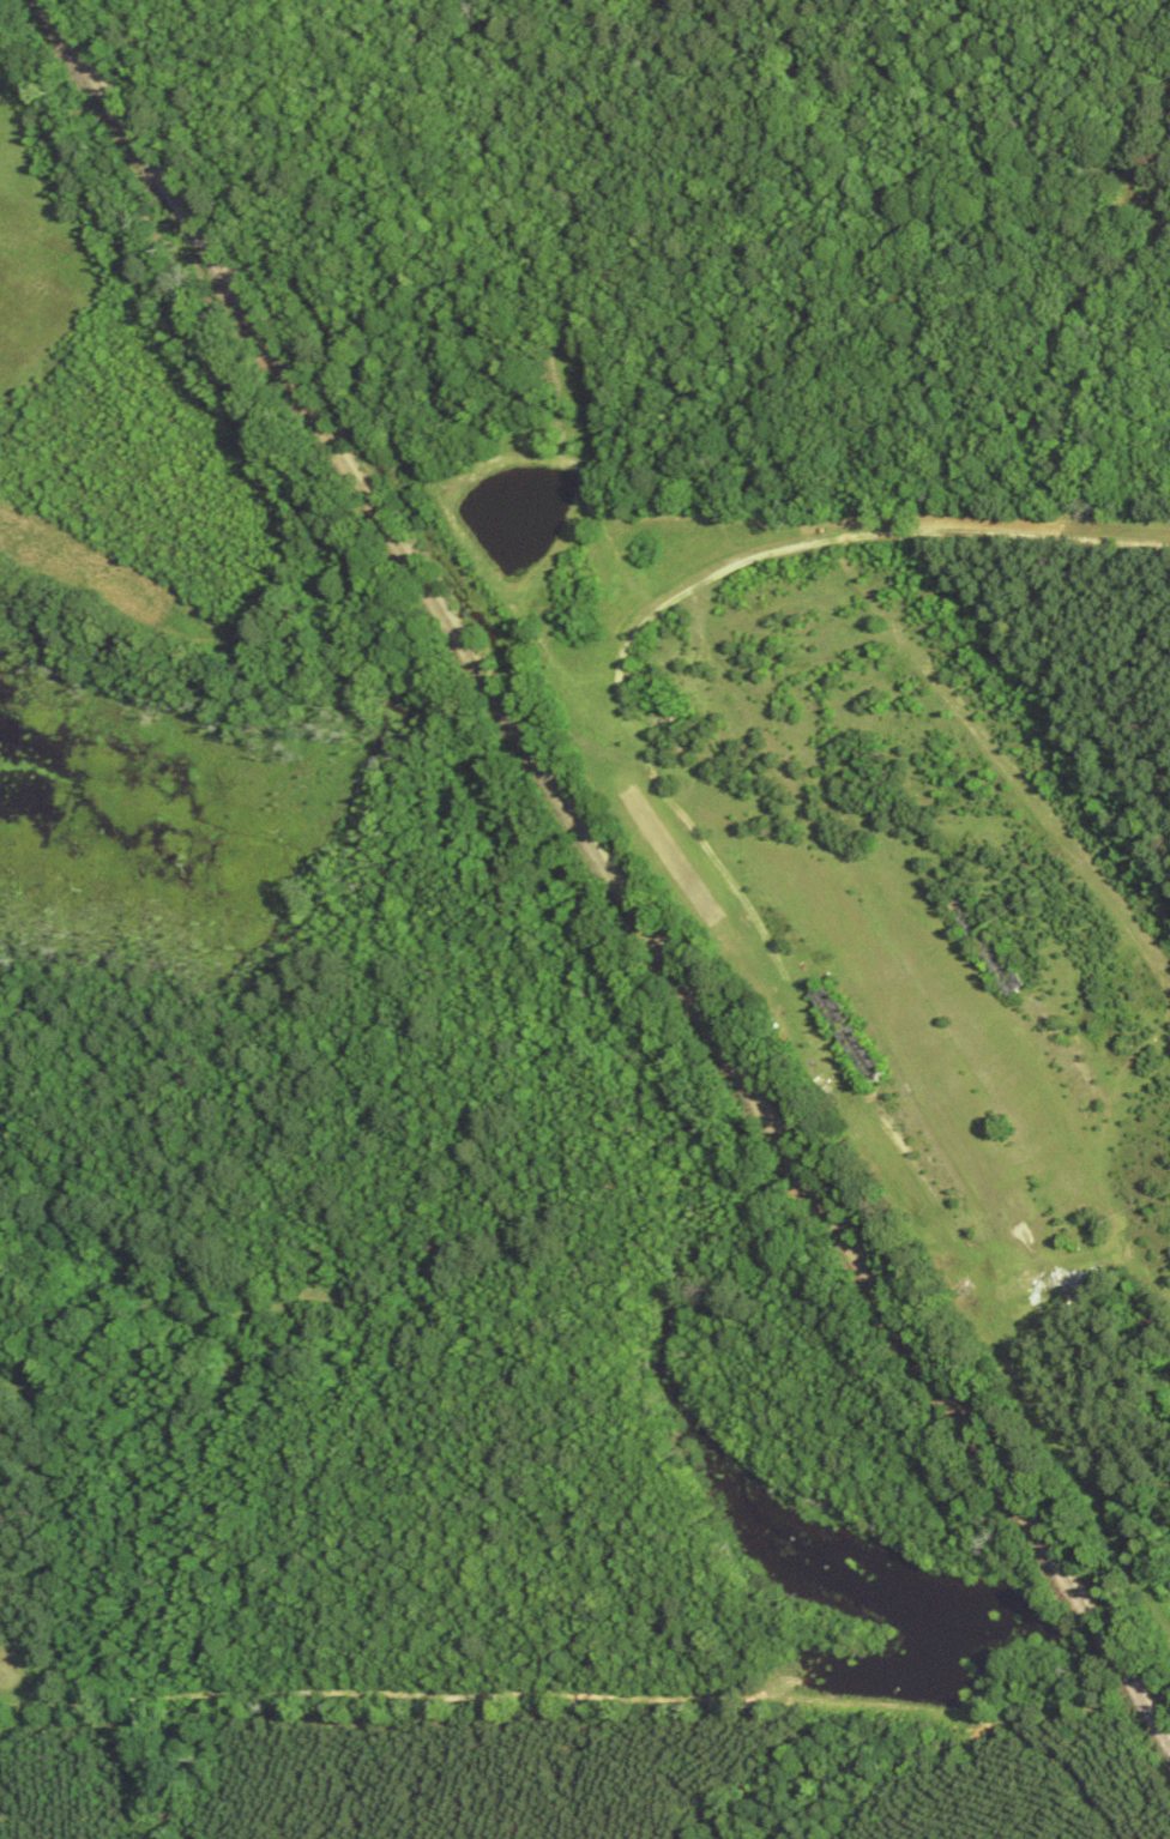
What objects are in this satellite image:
road: (924, 580)
railway: (604, 864)
building: (990, 945)
building: (852, 1035)

